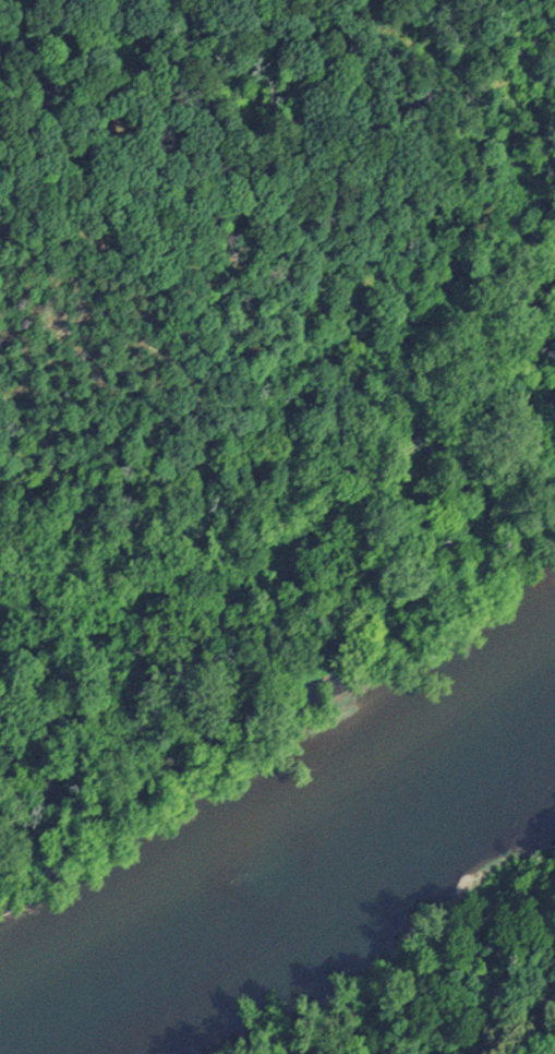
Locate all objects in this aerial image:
road: (492, 385)
road: (419, 442)
road: (218, 552)
river: (292, 886)

